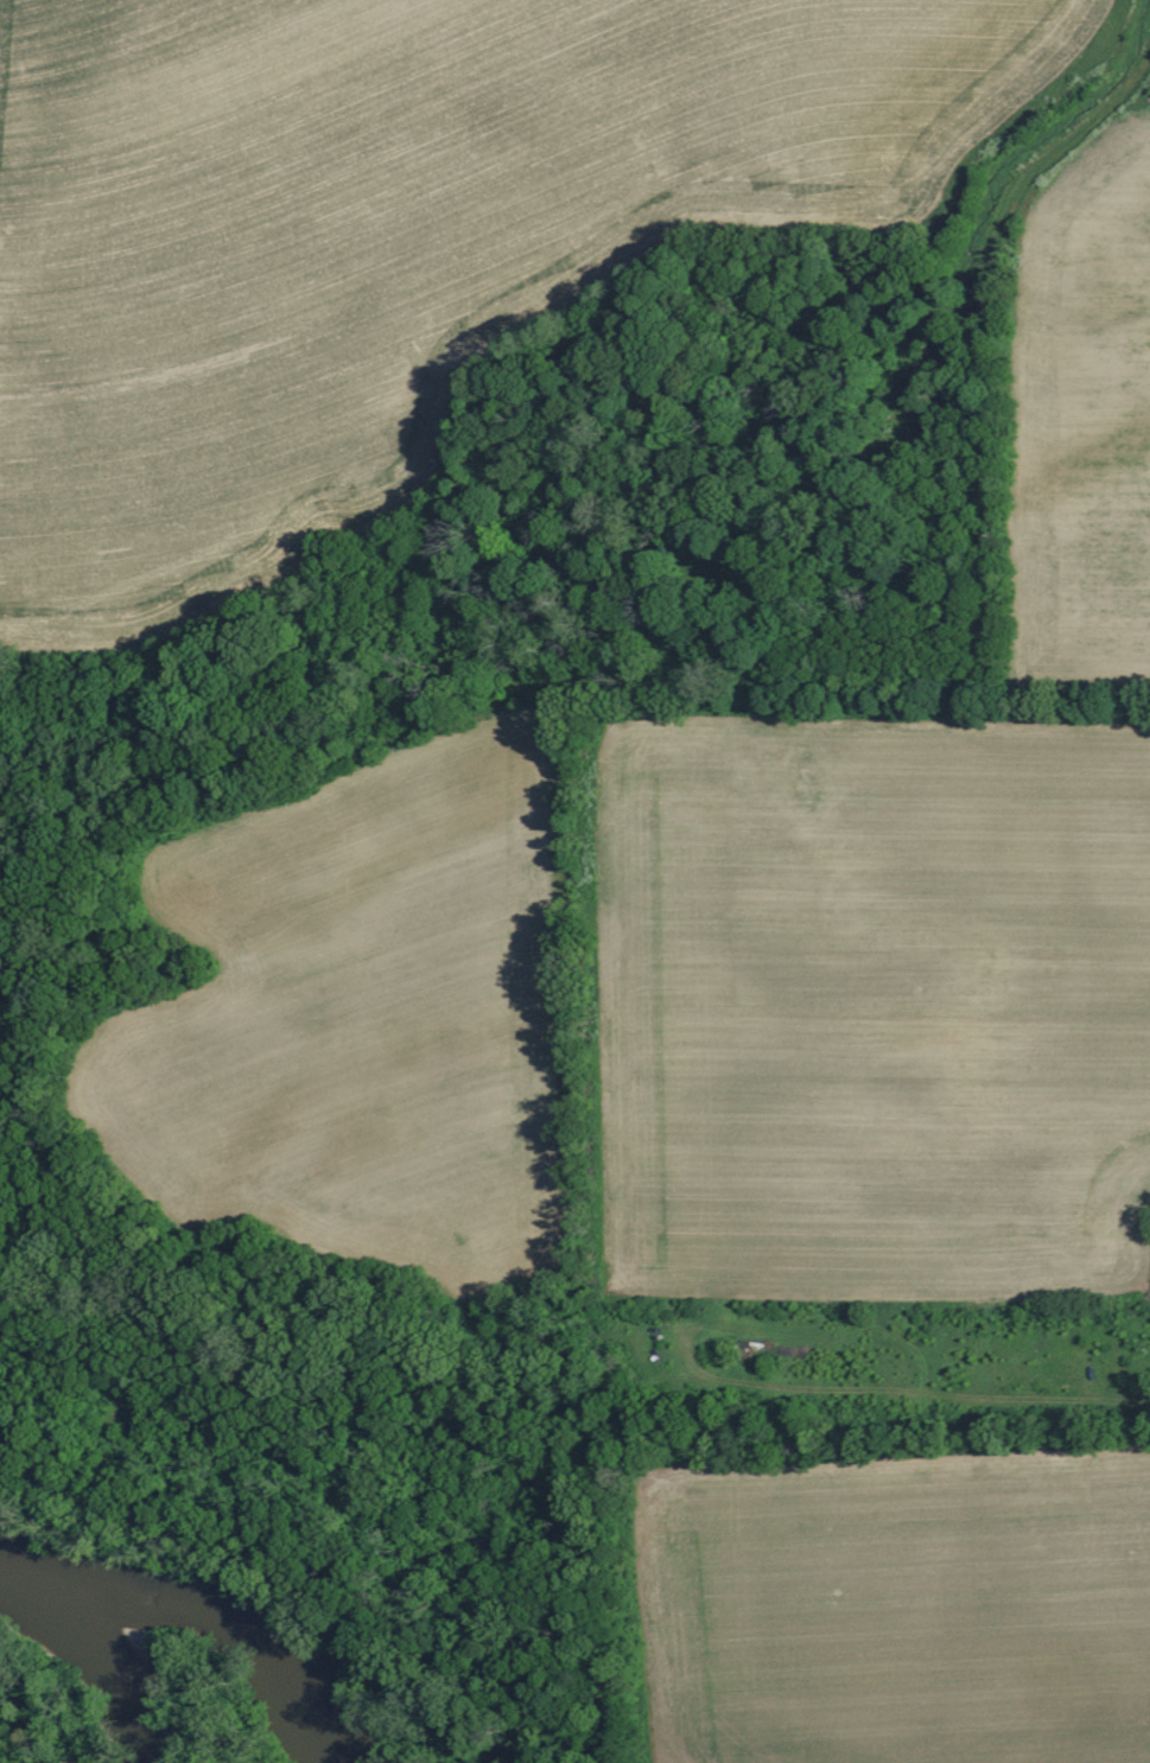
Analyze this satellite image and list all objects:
river: (47, 1725)

